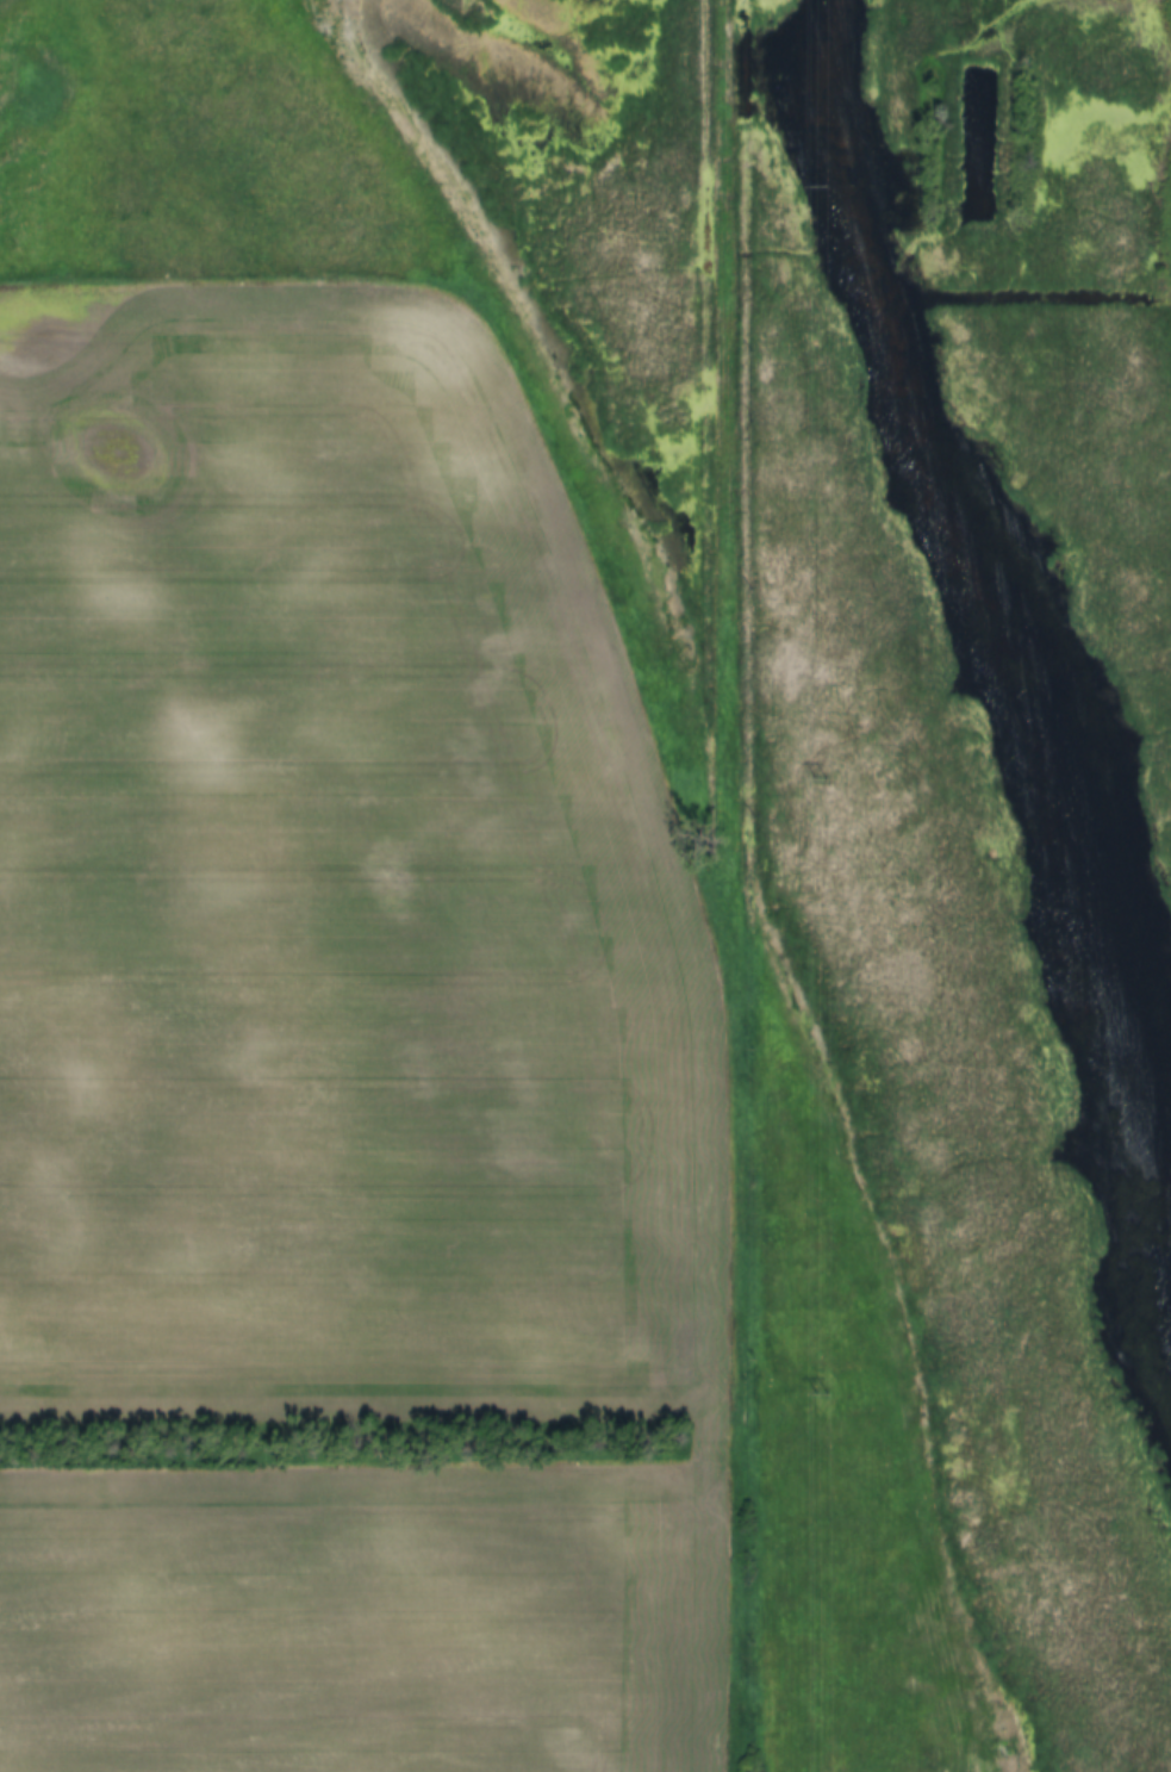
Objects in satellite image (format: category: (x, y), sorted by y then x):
power tower: (820, 186)
power tower: (816, 776)
road: (740, 885)
power tower: (818, 1394)

